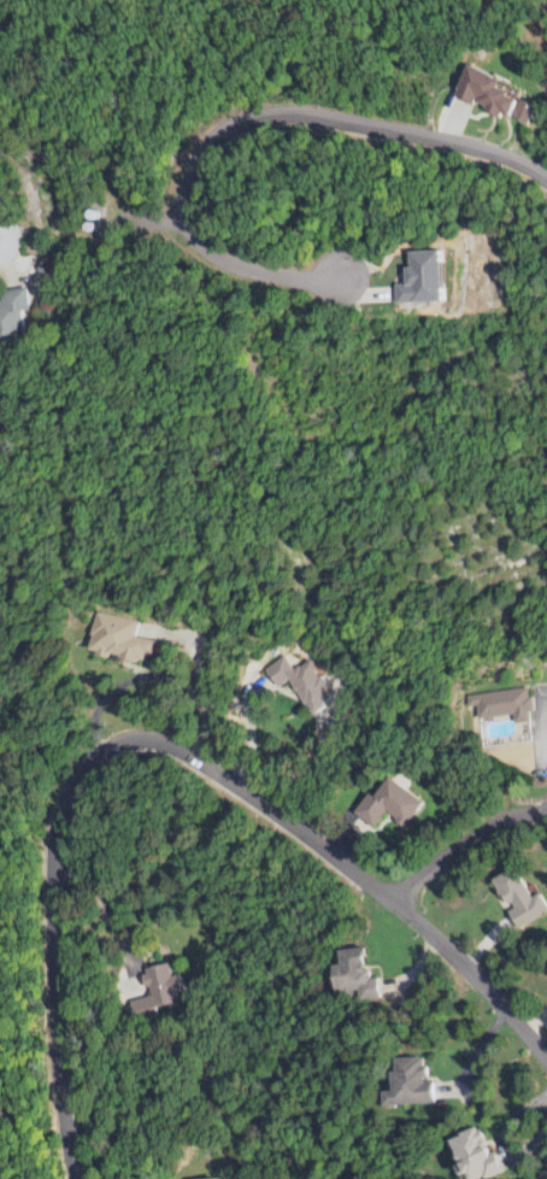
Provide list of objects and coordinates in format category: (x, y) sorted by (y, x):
building: (499, 93)
road: (249, 118)
road: (8, 235)
building: (435, 277)
building: (14, 313)
road: (160, 627)
building: (118, 637)
building: (308, 681)
building: (505, 703)
road: (101, 747)
building: (393, 803)
road: (467, 843)
building: (525, 897)
road: (505, 934)
building: (365, 974)
building: (166, 984)
road: (510, 1004)
building: (418, 1083)
building: (481, 1152)
building: (212, 1178)

